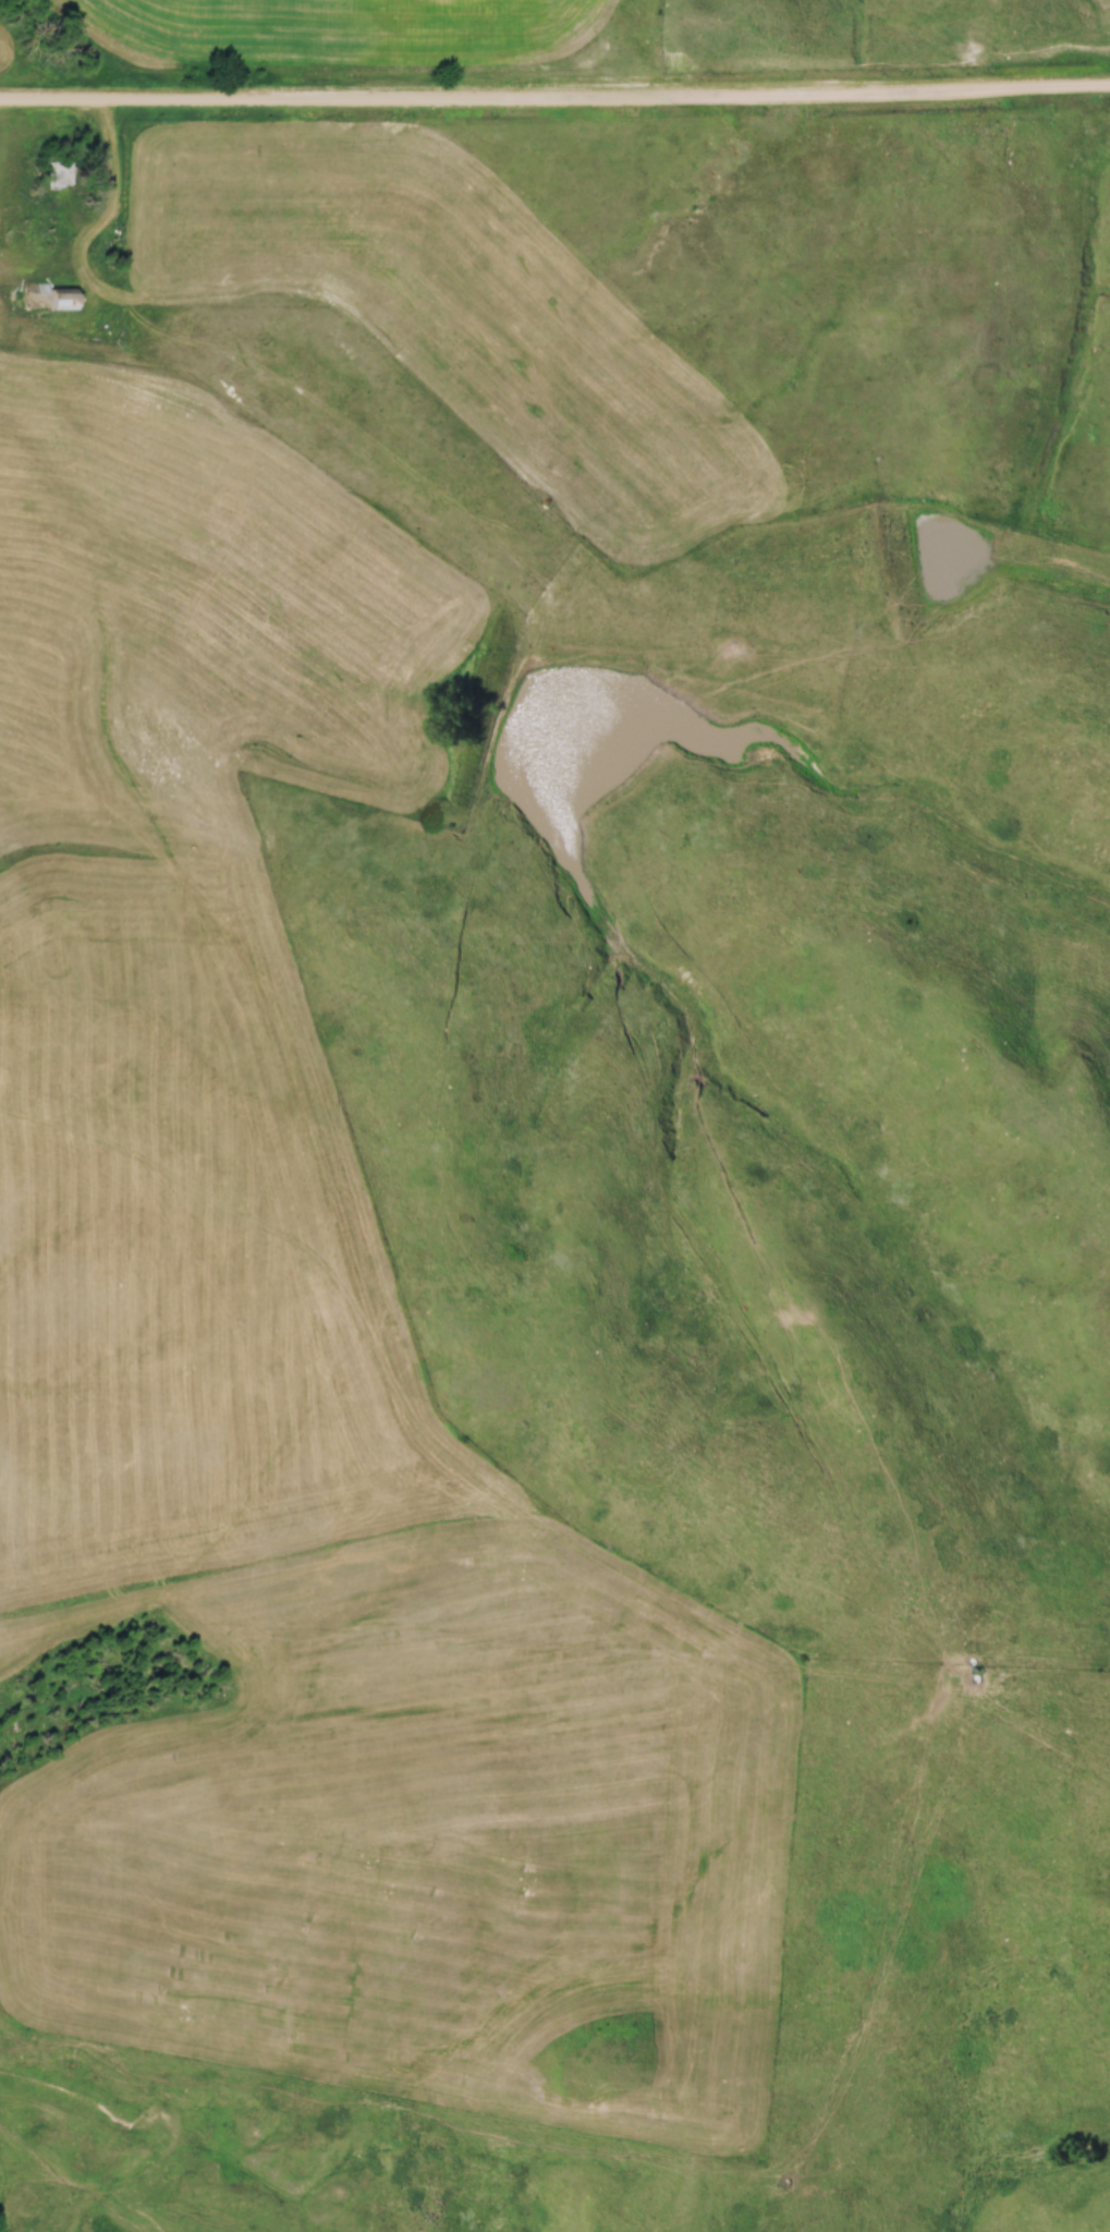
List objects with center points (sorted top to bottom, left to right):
road: (554, 100)
building: (58, 179)
road: (115, 208)
building: (59, 300)

